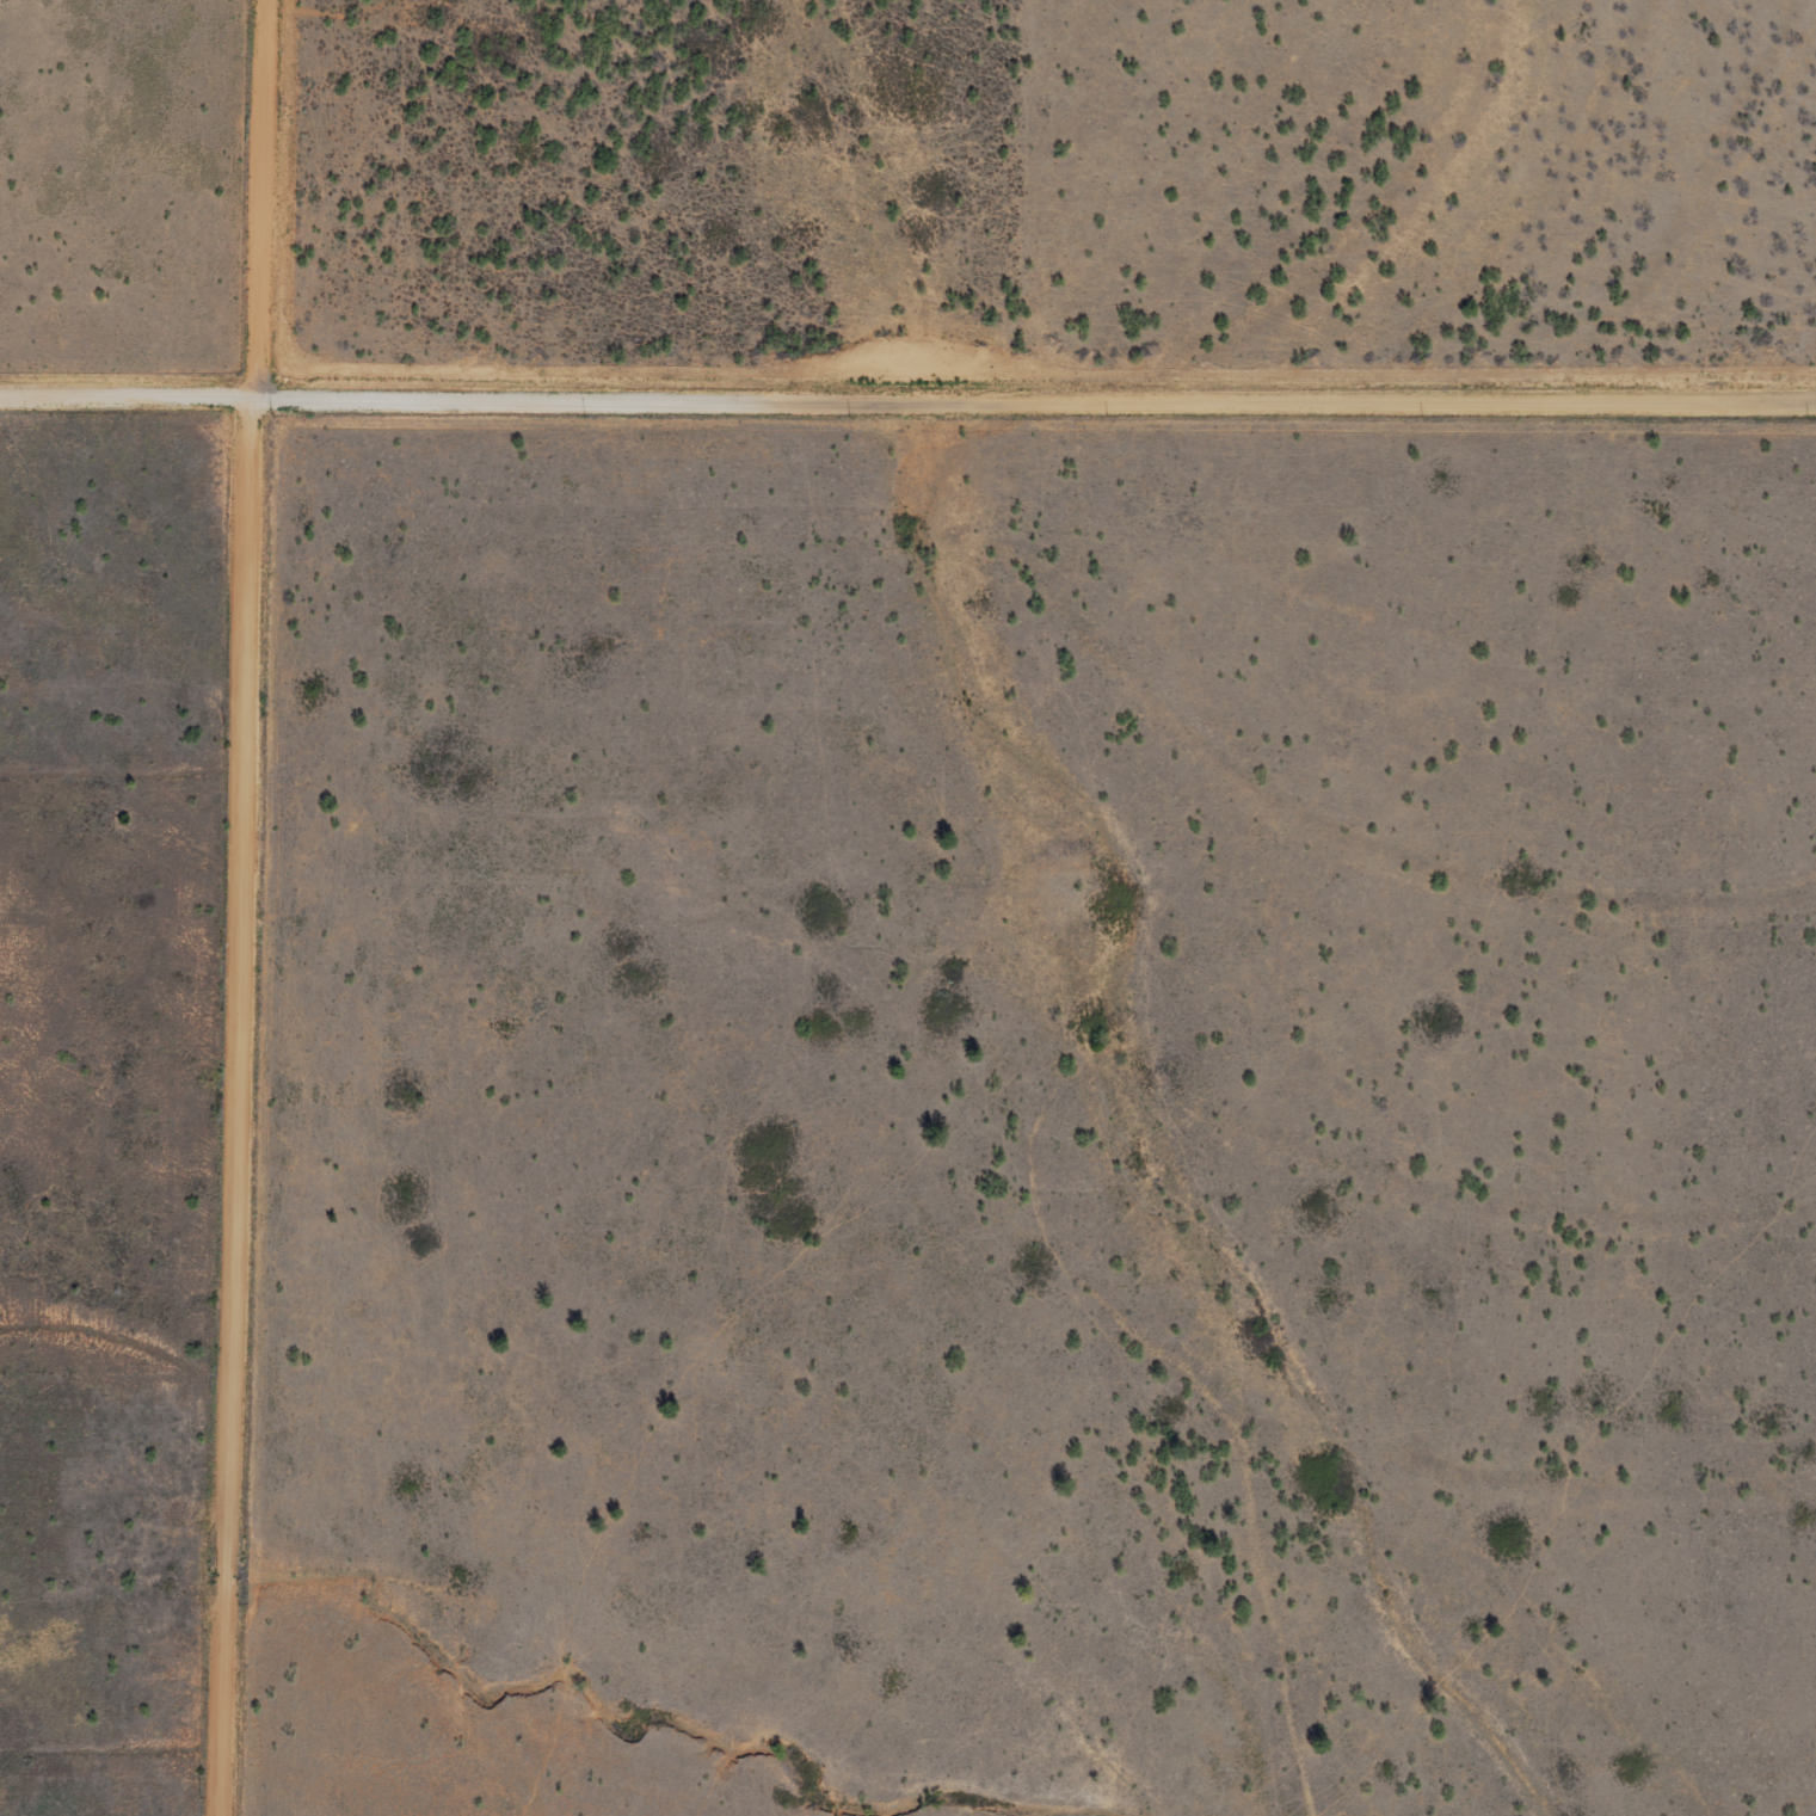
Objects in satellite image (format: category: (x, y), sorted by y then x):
road: (907, 402)
road: (246, 907)

